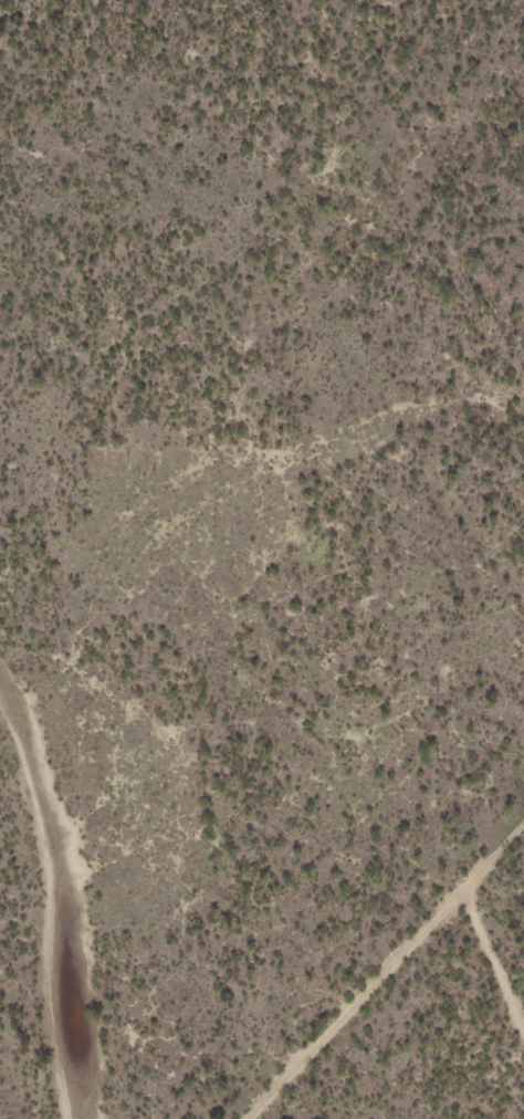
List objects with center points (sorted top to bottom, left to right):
road: (505, 991)
road: (438, 1004)

